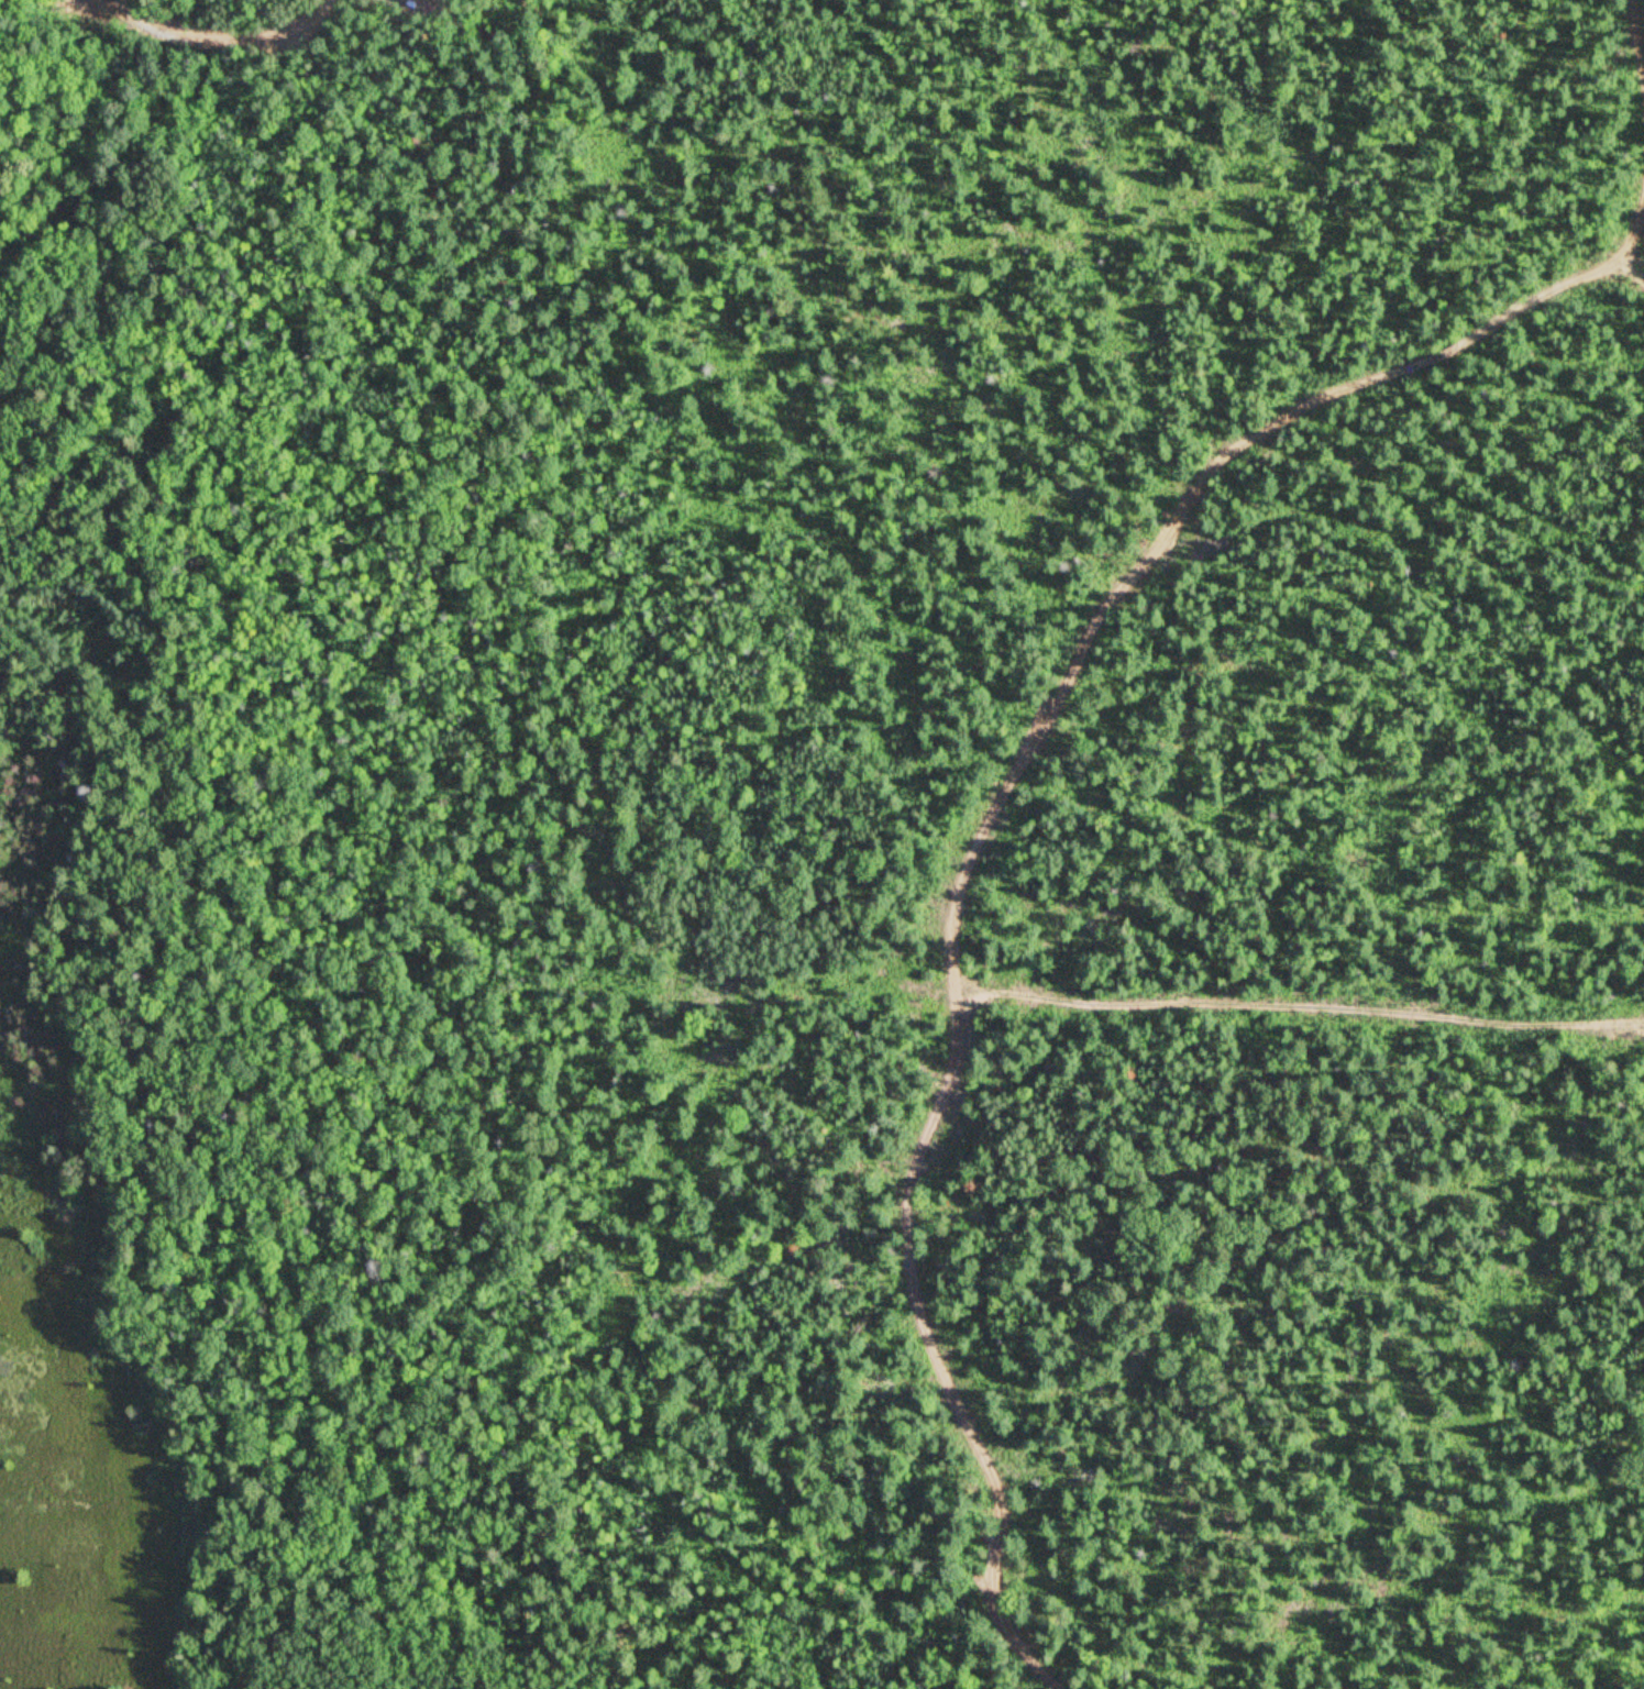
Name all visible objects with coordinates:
road: (240, 27)
road: (173, 263)

